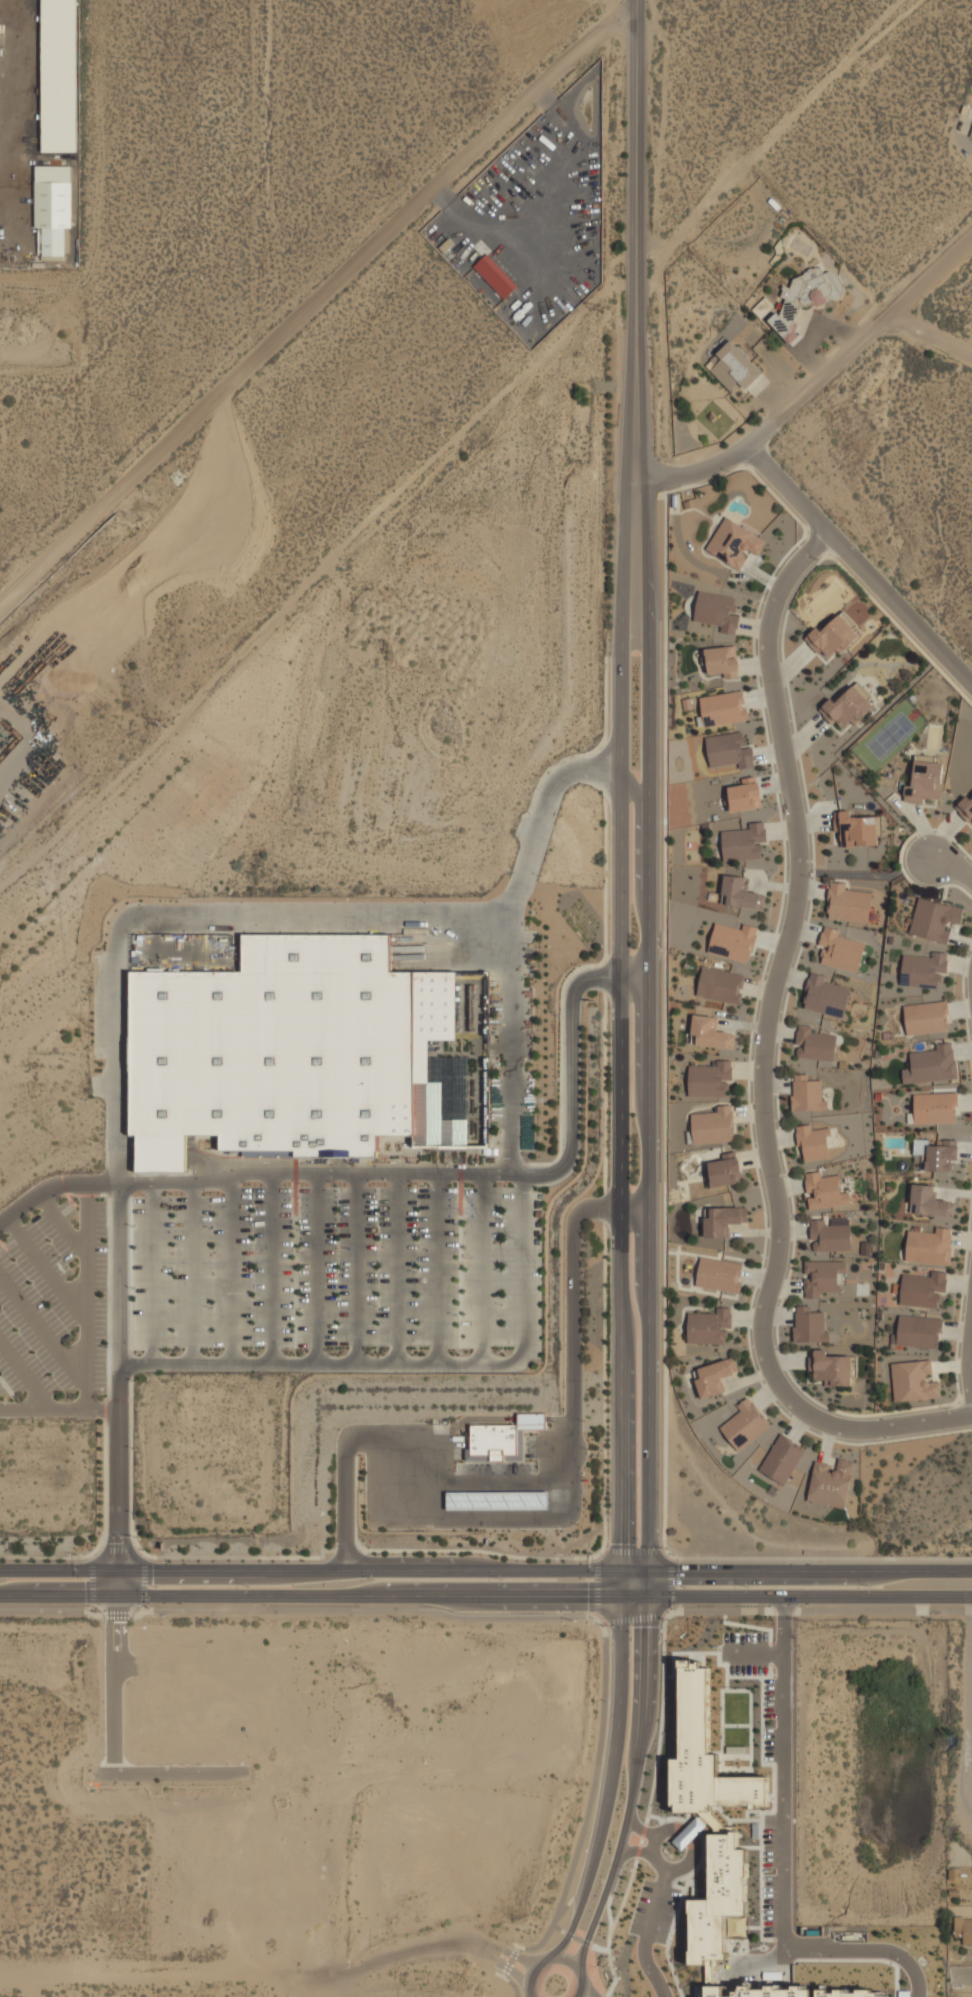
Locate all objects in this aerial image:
building: (971, 132)
road: (641, 200)
building: (53, 241)
building: (494, 276)
building: (806, 295)
road: (319, 299)
power tower: (600, 308)
road: (928, 336)
building: (734, 367)
road: (812, 384)
building: (735, 542)
road: (860, 567)
building: (717, 610)
building: (833, 636)
building: (722, 661)
building: (847, 706)
building: (724, 707)
power tower: (166, 725)
park: (889, 735)
building: (729, 749)
building: (926, 778)
road: (635, 789)
building: (743, 795)
road: (622, 805)
building: (965, 807)
building: (859, 828)
building: (744, 841)
road: (952, 867)
building: (741, 893)
building: (850, 903)
building: (935, 919)
building: (732, 940)
building: (840, 950)
building: (923, 969)
road: (634, 979)
building: (721, 984)
building: (825, 995)
building: (927, 1017)
building: (710, 1032)
building: (815, 1043)
building: (294, 1053)
road: (763, 1053)
road: (116, 1060)
building: (932, 1064)
road: (568, 1077)
building: (710, 1078)
building: (808, 1093)
building: (935, 1106)
building: (714, 1125)
building: (814, 1141)
road: (648, 1143)
building: (937, 1153)
building: (723, 1170)
building: (825, 1189)
building: (930, 1202)
road: (118, 1207)
road: (633, 1211)
building: (724, 1219)
road: (62, 1224)
building: (830, 1235)
building: (929, 1244)
road: (45, 1267)
road: (232, 1268)
road: (272, 1268)
road: (317, 1268)
road: (356, 1268)
road: (397, 1268)
road: (437, 1268)
road: (482, 1268)
road: (151, 1272)
road: (191, 1272)
building: (720, 1274)
building: (823, 1276)
building: (923, 1289)
road: (85, 1296)
building: (811, 1325)
building: (708, 1327)
building: (919, 1331)
road: (42, 1332)
road: (520, 1335)
road: (967, 1356)
building: (833, 1367)
building: (715, 1376)
road: (25, 1377)
building: (914, 1380)
road: (618, 1389)
road: (58, 1410)
building: (745, 1425)
building: (502, 1438)
building: (783, 1459)
road: (500, 1480)
building: (831, 1483)
building: (498, 1499)
road: (534, 1519)
road: (630, 1551)
road: (298, 1557)
road: (821, 1558)
road: (485, 1568)
traffic signals: (116, 1569)
traffic signals: (618, 1569)
traffic signals: (649, 1569)
road: (91, 1583)
road: (115, 1583)
road: (143, 1583)
traffic signals: (115, 1598)
road: (486, 1599)
traffic signals: (618, 1600)
traffic signals: (648, 1601)
road: (618, 1605)
road: (486, 1616)
road: (969, 1710)
road: (659, 1719)
road: (610, 1766)
building: (712, 1787)
road: (587, 1799)
road: (639, 1829)
road: (657, 1832)
building: (688, 1833)
road: (686, 1835)
road: (639, 1840)
road: (634, 1850)
road: (781, 1855)
road: (677, 1867)
road: (623, 1894)
road: (566, 1903)
road: (606, 1905)
road: (569, 1928)
road: (589, 1928)
building: (964, 1929)
road: (646, 1933)
building: (708, 1937)
road: (577, 1939)
road: (507, 1960)
road: (554, 1961)
road: (607, 1963)
road: (961, 1978)
road: (510, 1984)
road: (586, 1989)
road: (530, 1996)
road: (603, 1996)

